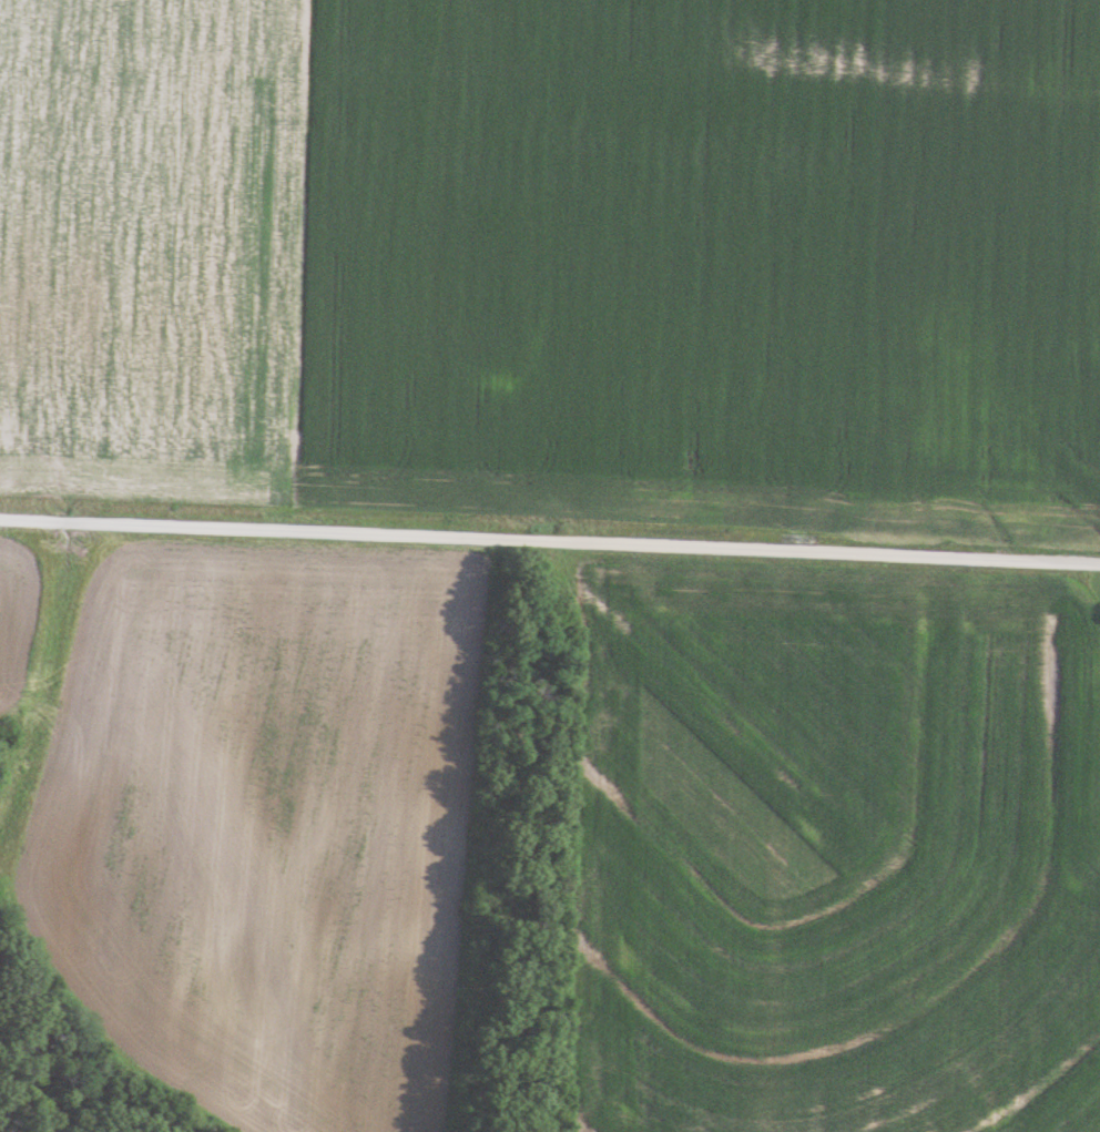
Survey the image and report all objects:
road: (549, 541)

